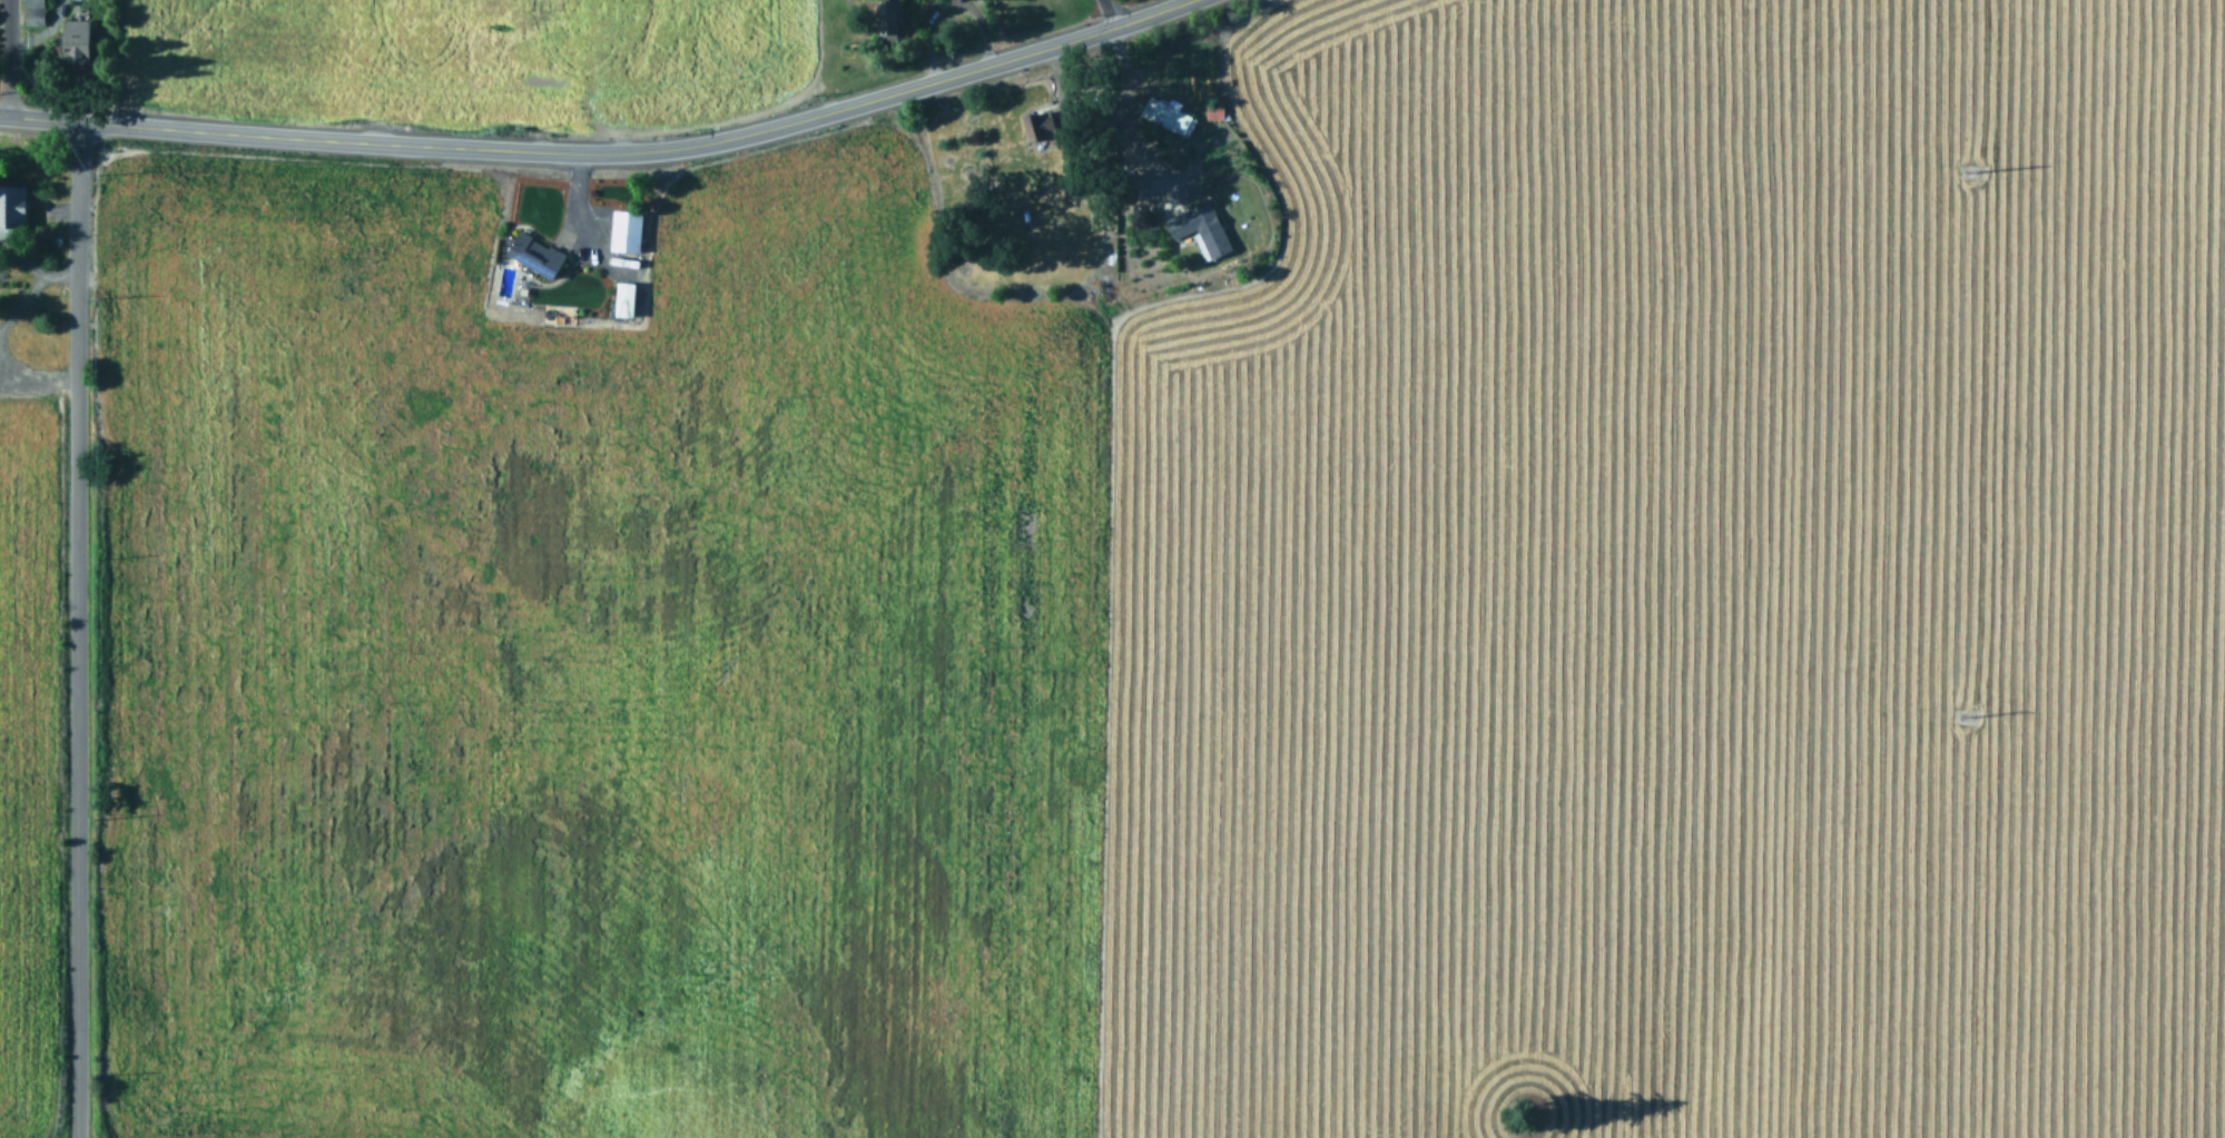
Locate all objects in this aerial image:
building: (31, 11)
road: (1105, 12)
building: (885, 16)
building: (71, 39)
crop: (687, 44)
crop: (228, 48)
road: (7, 57)
building: (1212, 109)
road: (1125, 111)
building: (1165, 112)
road: (2, 113)
building: (1035, 121)
road: (606, 150)
building: (10, 202)
road: (573, 215)
building: (1200, 224)
building: (623, 229)
building: (532, 253)
building: (622, 297)
road: (0, 333)
crop: (1156, 605)
road: (73, 629)

